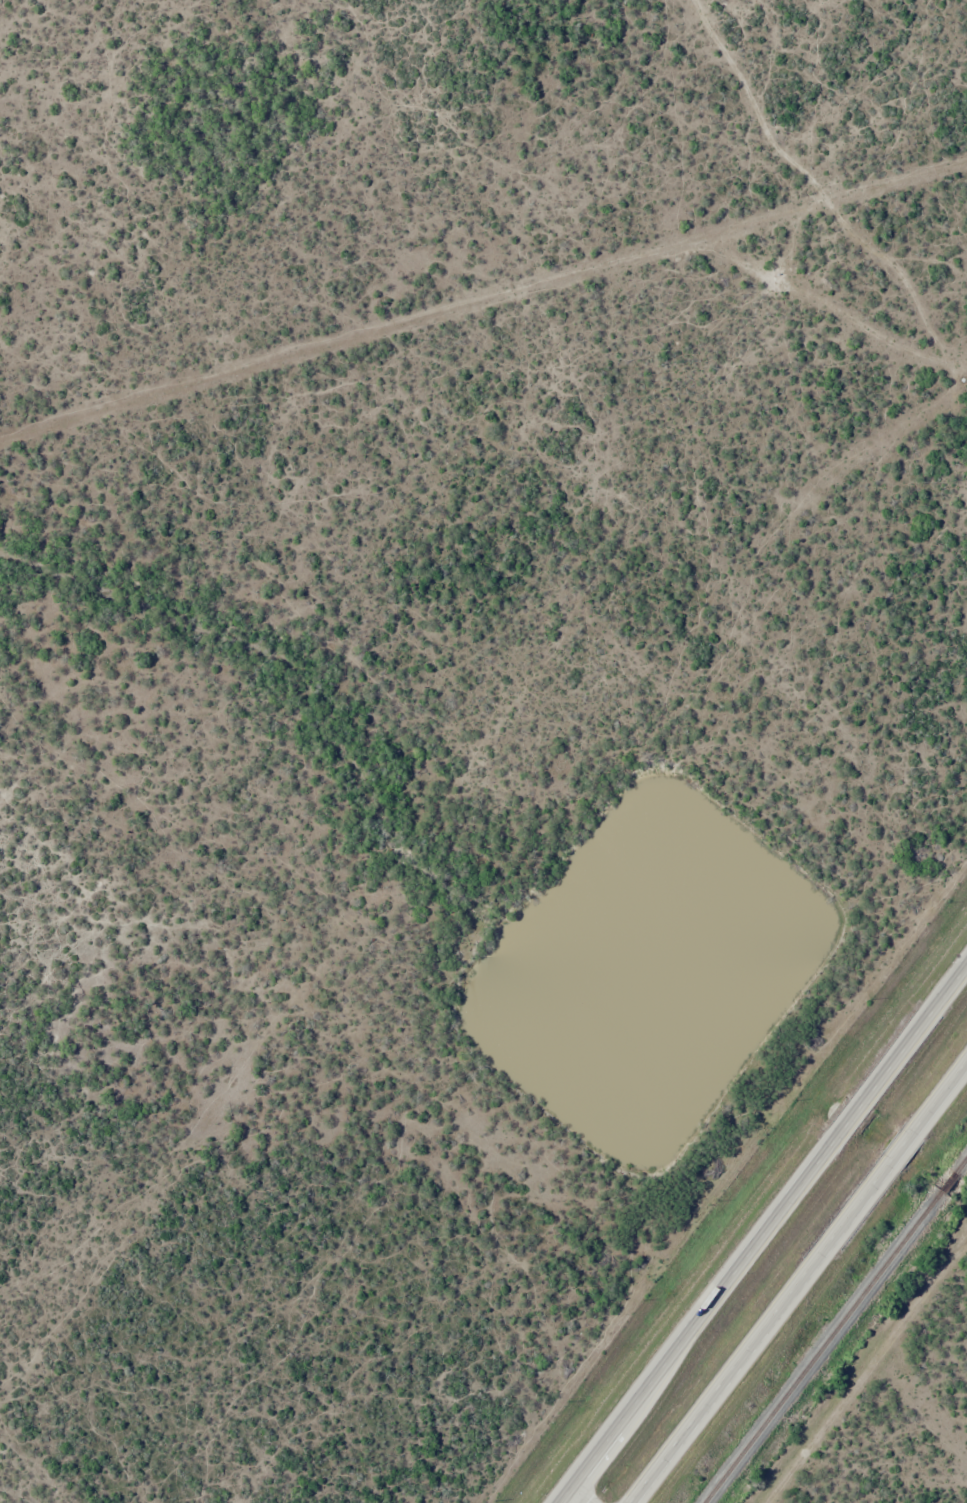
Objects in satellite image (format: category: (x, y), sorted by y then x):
road: (762, 1233)
road: (805, 1290)
railway: (835, 1330)
road: (571, 1498)

